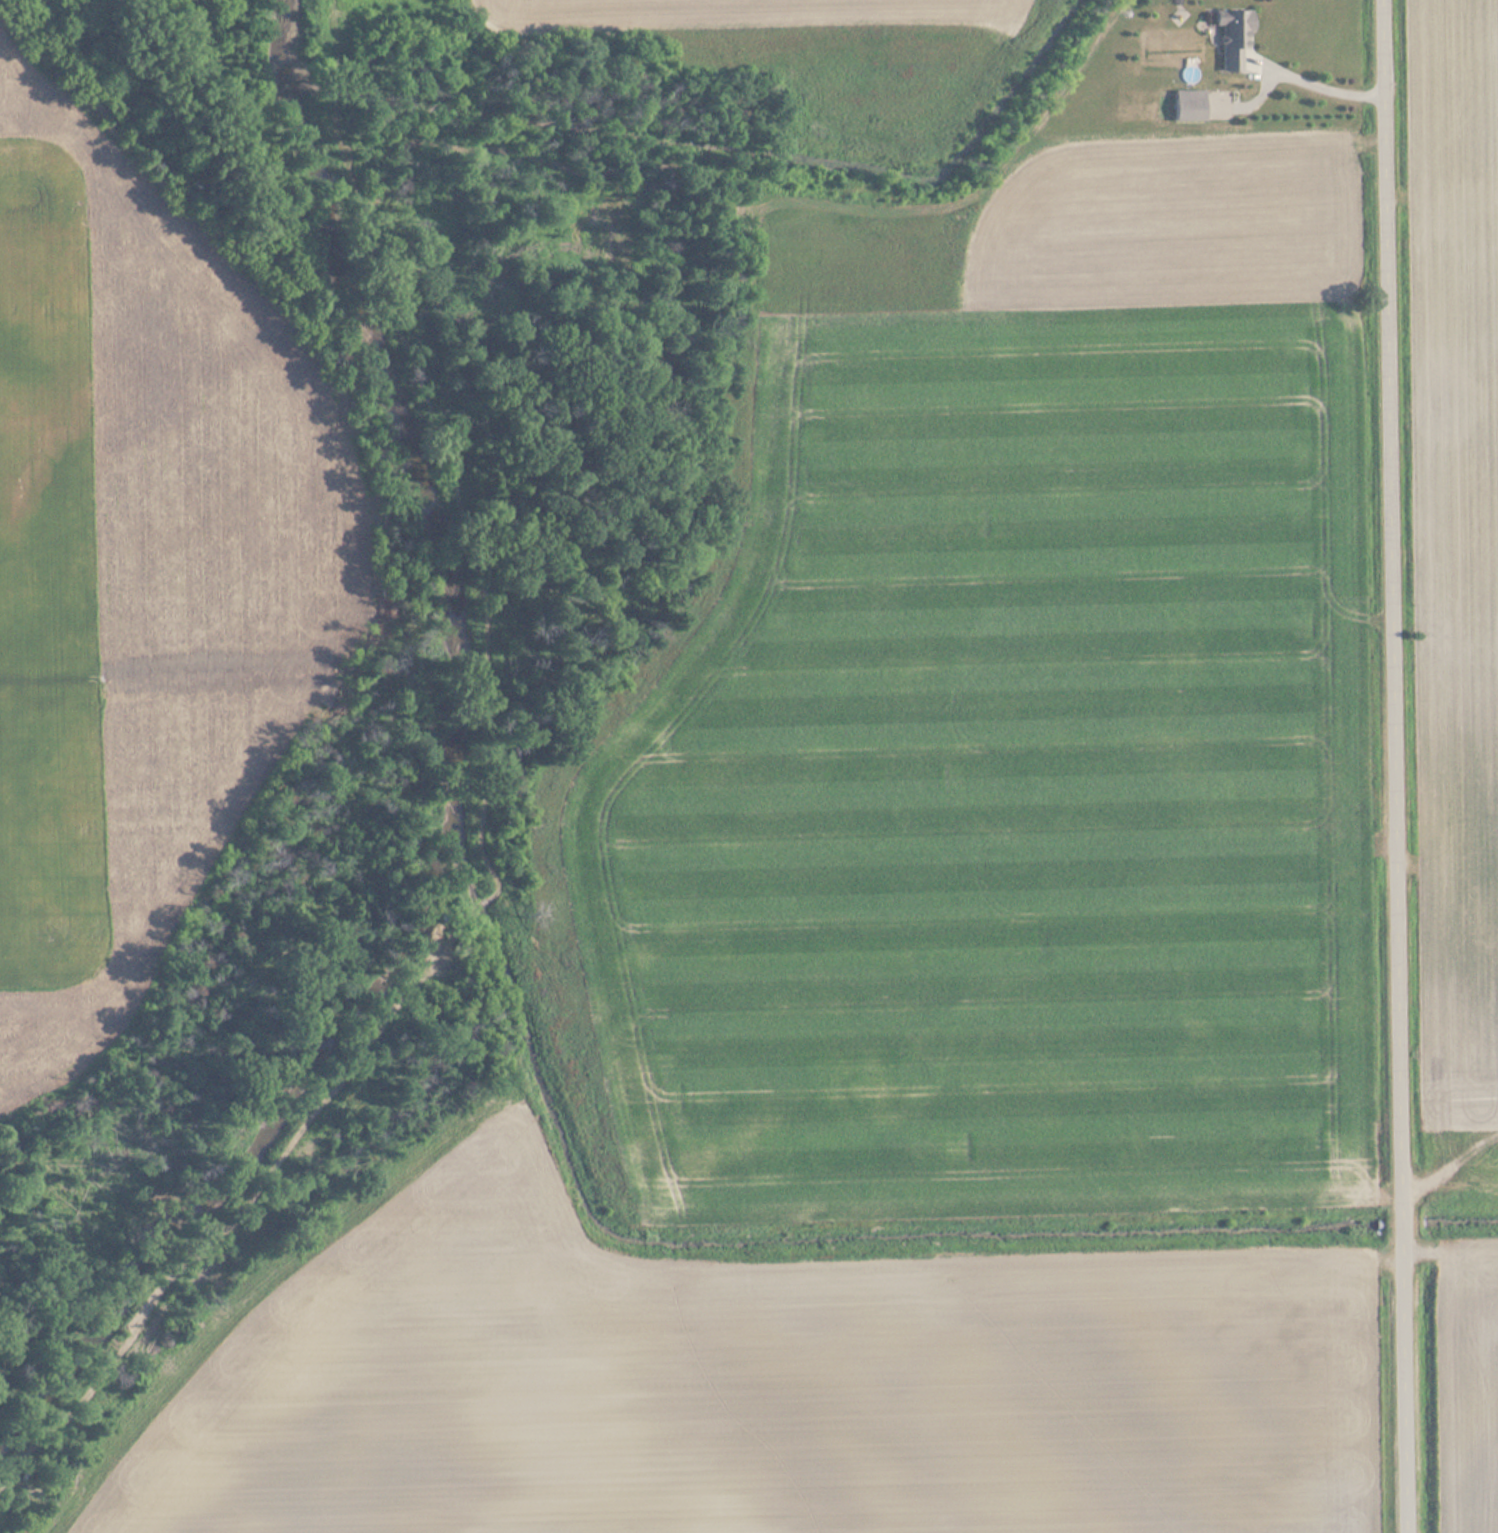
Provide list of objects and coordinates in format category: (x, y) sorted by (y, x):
building: (1232, 38)
building: (1188, 106)
road: (1399, 766)
river: (450, 787)

